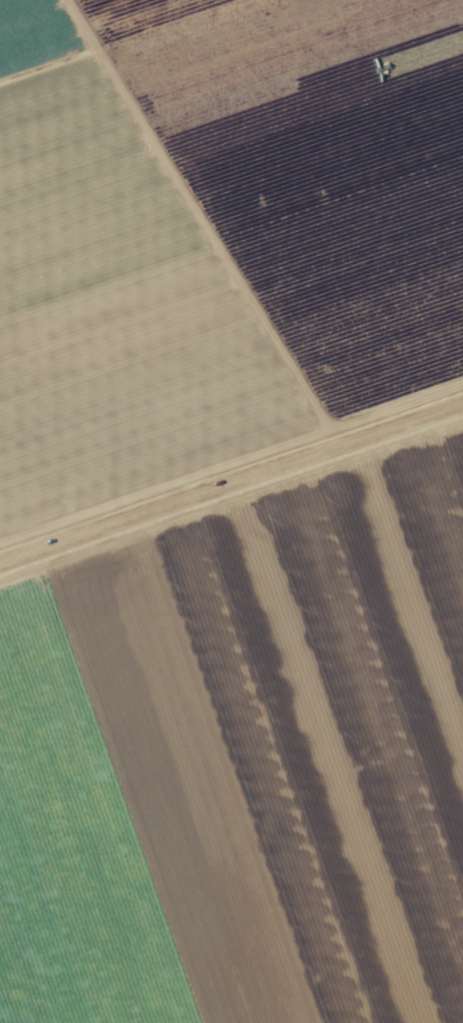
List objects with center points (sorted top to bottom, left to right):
road: (231, 484)
crop: (231, 511)

